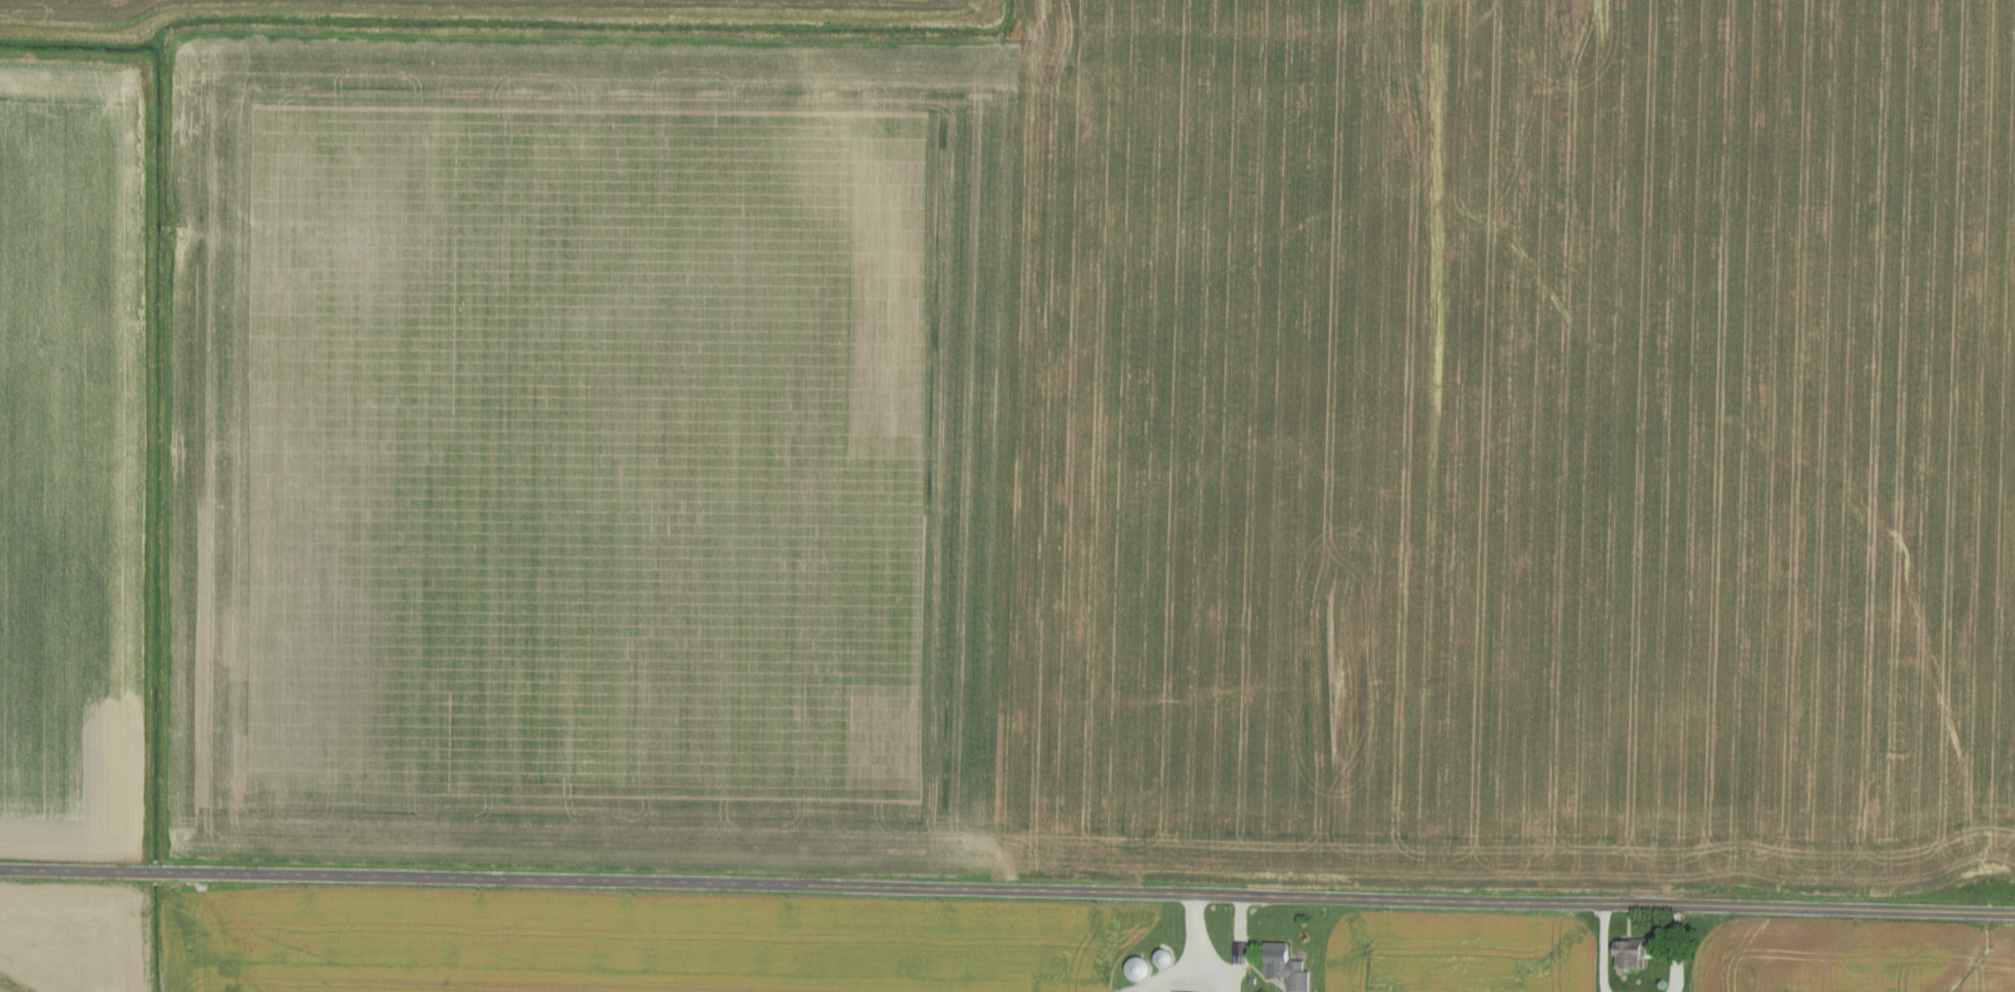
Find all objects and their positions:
road: (1007, 887)
building: (1635, 956)
building: (1291, 968)
building: (1141, 969)

